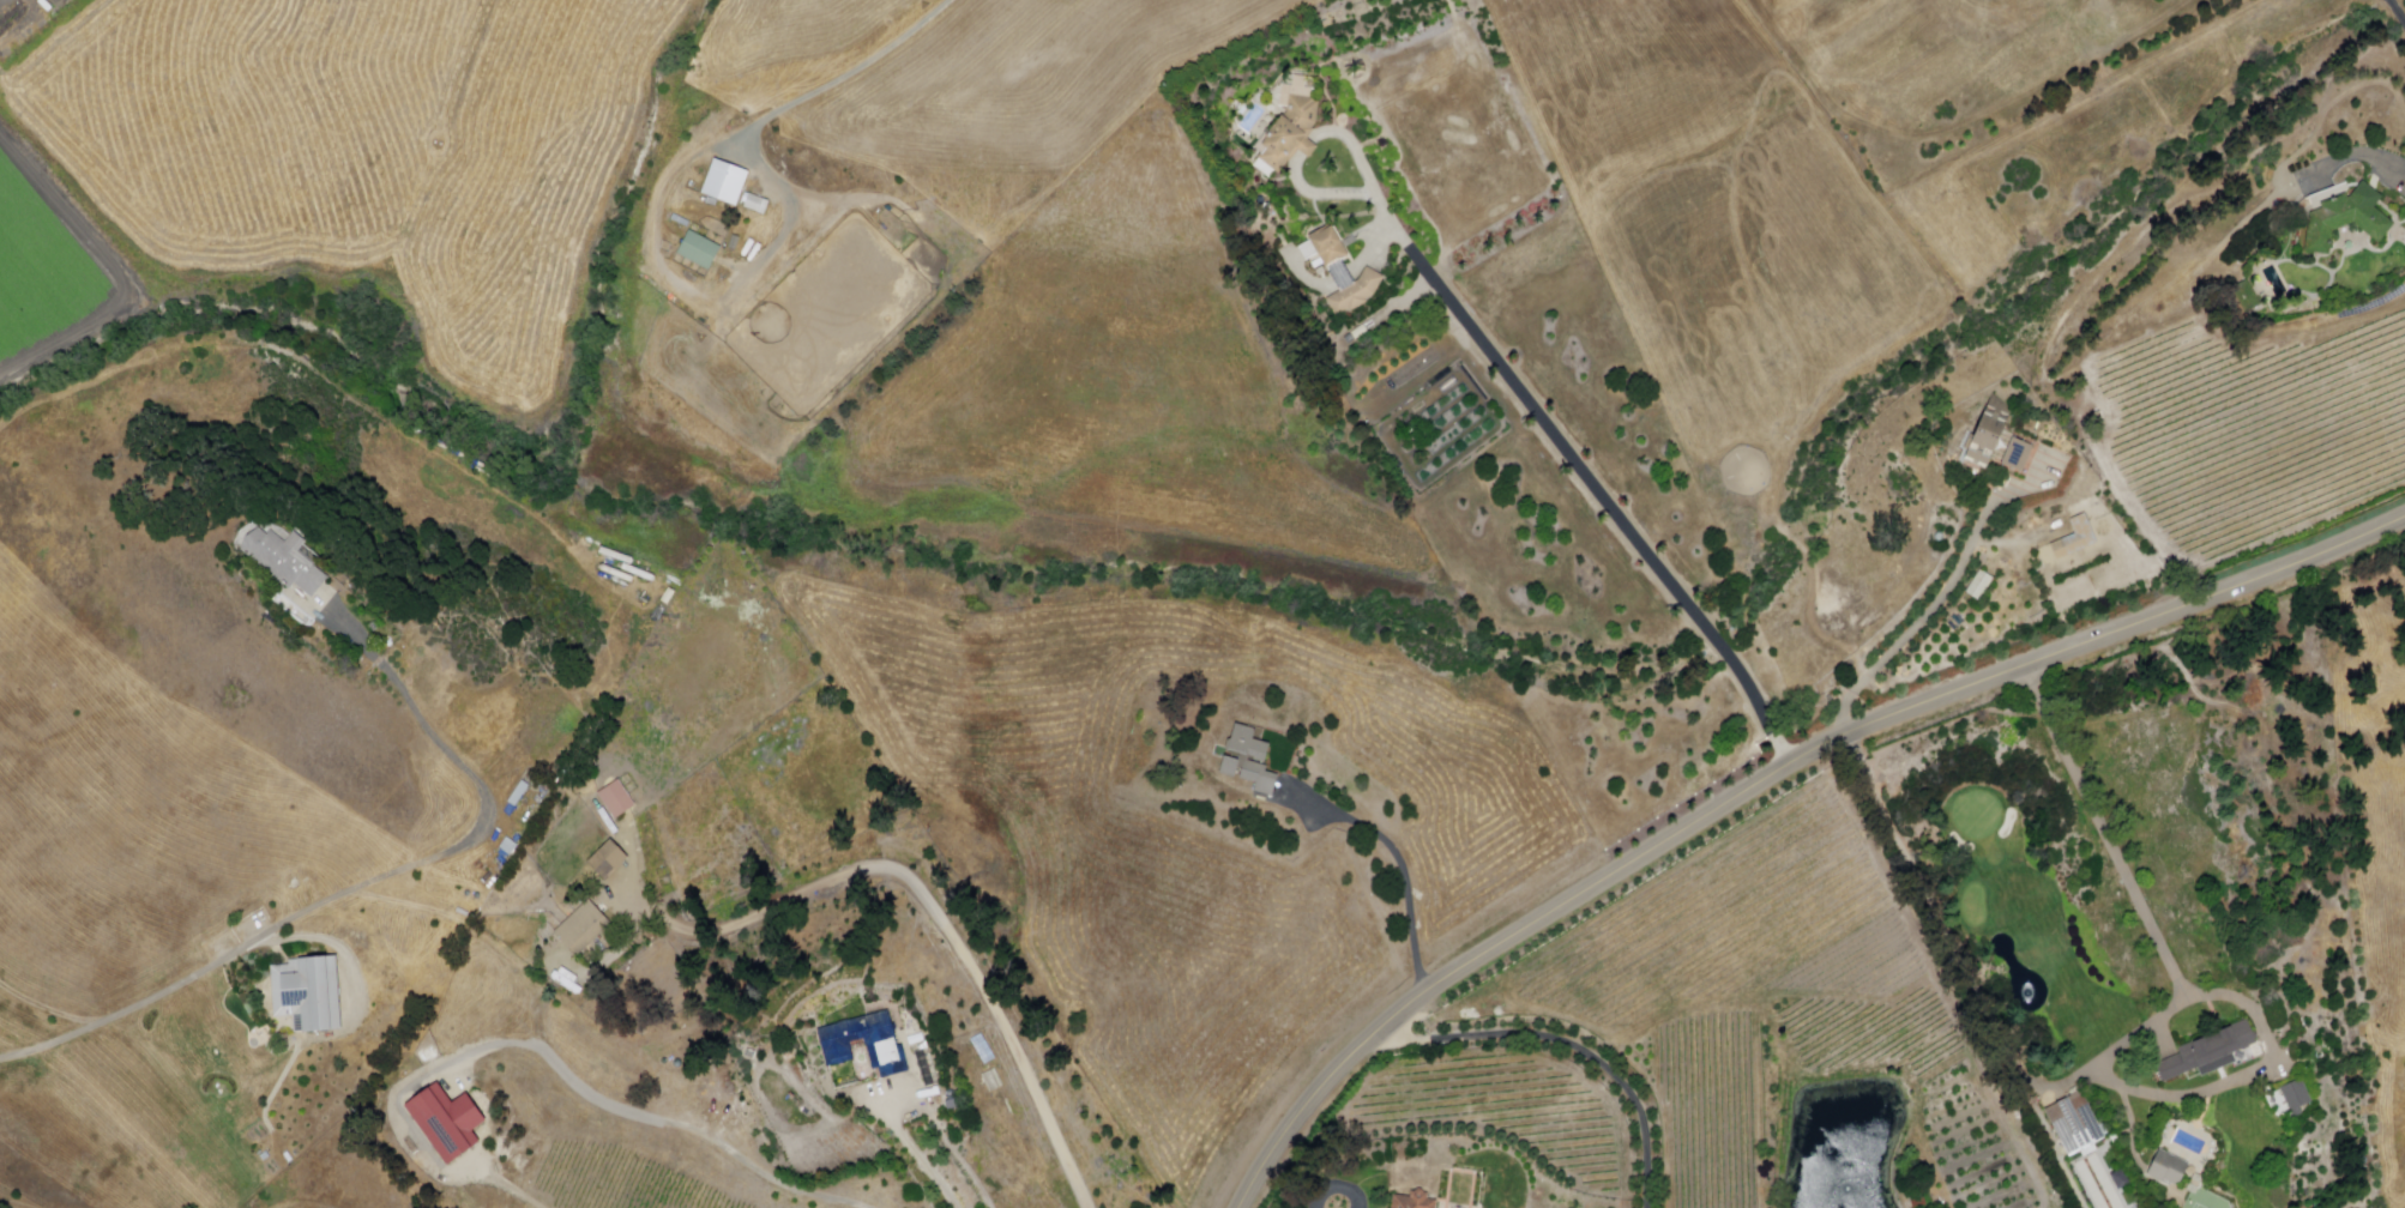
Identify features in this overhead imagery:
road: (2397, 12)
crop: (791, 28)
road: (856, 68)
crop: (1019, 75)
building: (1292, 135)
road: (1306, 146)
crop: (361, 151)
road: (2394, 164)
road: (1367, 173)
building: (725, 186)
road: (1320, 193)
building: (757, 206)
crop: (1724, 211)
building: (2350, 219)
building: (699, 253)
crop: (43, 273)
building: (1344, 274)
road: (694, 290)
building: (2247, 298)
building: (1991, 431)
building: (2020, 454)
road: (1605, 501)
building: (2077, 537)
building: (284, 561)
building: (1981, 586)
road: (1921, 621)
road: (445, 750)
building: (1249, 761)
road: (1768, 779)
building: (616, 799)
road: (1400, 860)
building: (608, 862)
road: (926, 901)
building: (583, 929)
road: (217, 961)
building: (307, 995)
road: (2218, 996)
building: (866, 1044)
road: (1569, 1045)
building: (980, 1050)
building: (2207, 1053)
building: (2298, 1098)
road: (604, 1103)
building: (445, 1123)
building: (2074, 1123)
road: (916, 1154)
building: (2169, 1170)
building: (2121, 1179)
road: (1316, 1182)
road: (1314, 1194)
building: (1415, 1201)
park: (2207, 1201)

